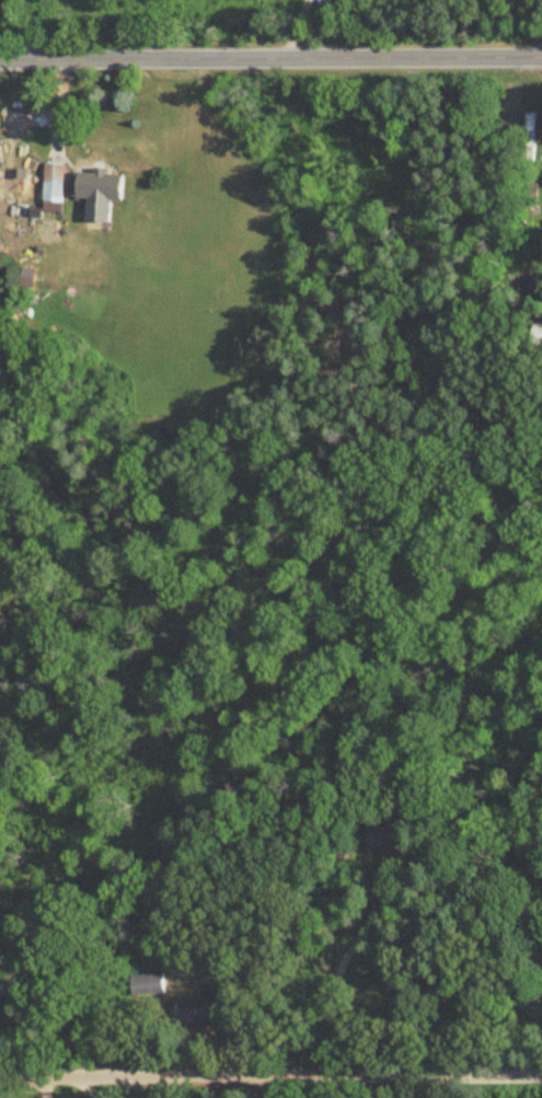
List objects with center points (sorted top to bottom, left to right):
road: (270, 57)
building: (530, 139)
building: (107, 163)
building: (55, 183)
building: (537, 336)
road: (338, 973)
building: (147, 984)
building: (203, 1009)
road: (270, 1076)
road: (41, 1087)

